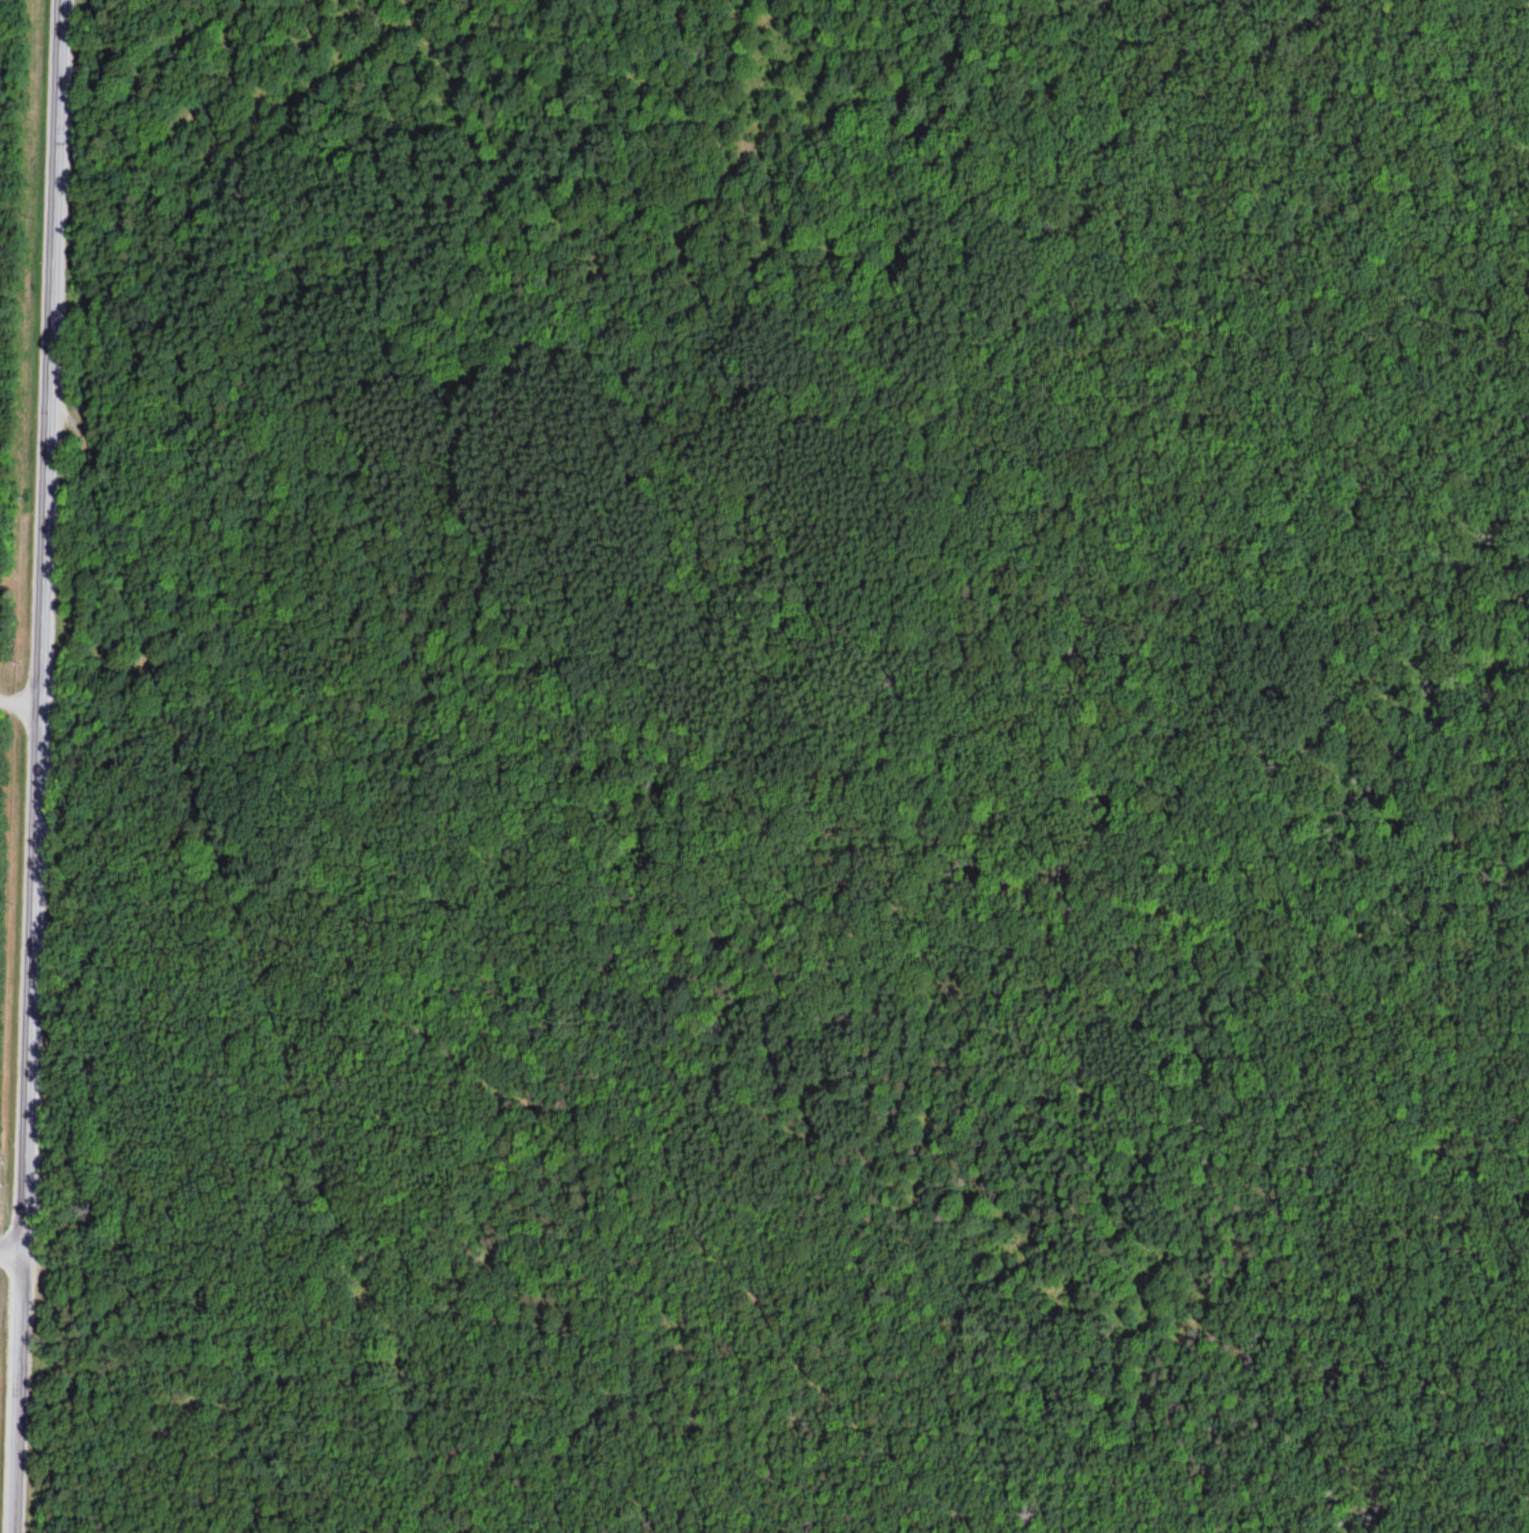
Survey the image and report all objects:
landfill: (6, 218)
road: (20, 701)
road: (39, 766)
road: (257, 956)
road: (638, 1185)
road: (12, 1251)

